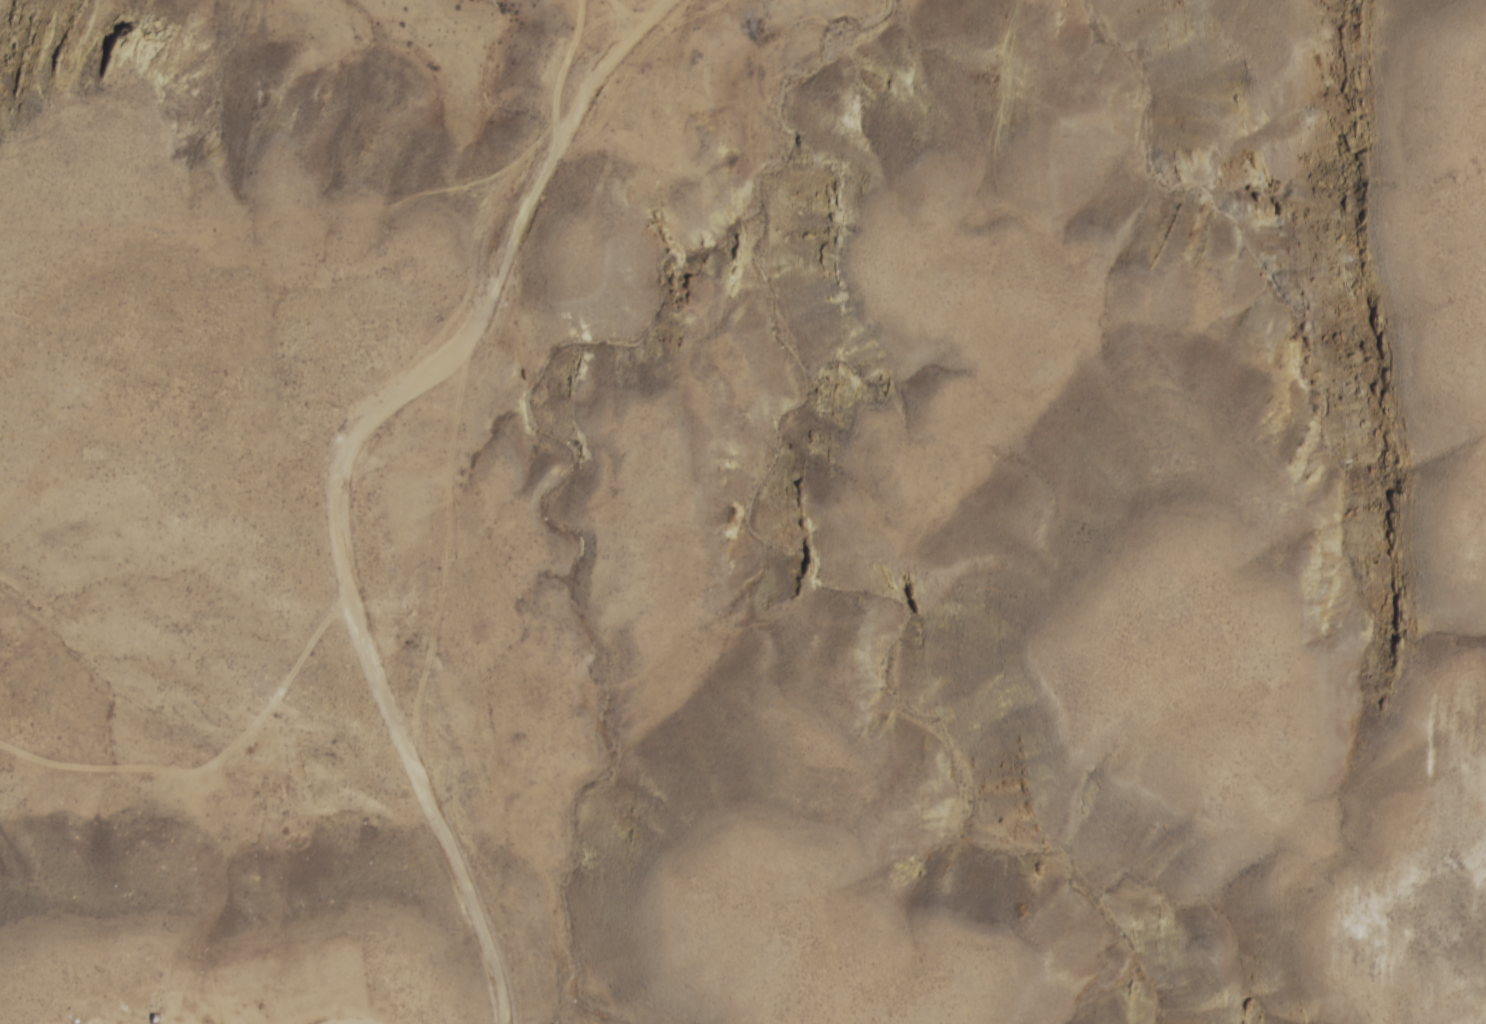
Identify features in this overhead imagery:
road: (580, 109)

